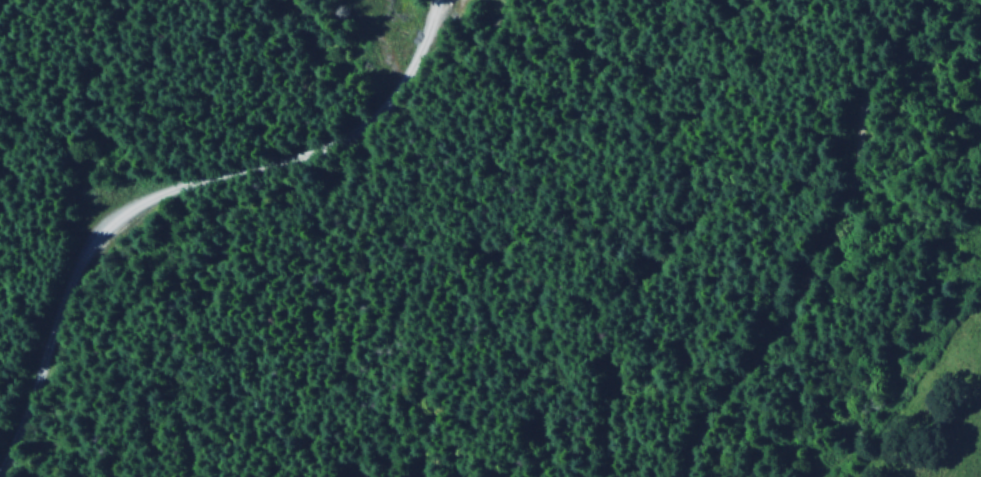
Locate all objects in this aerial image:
road: (176, 189)

